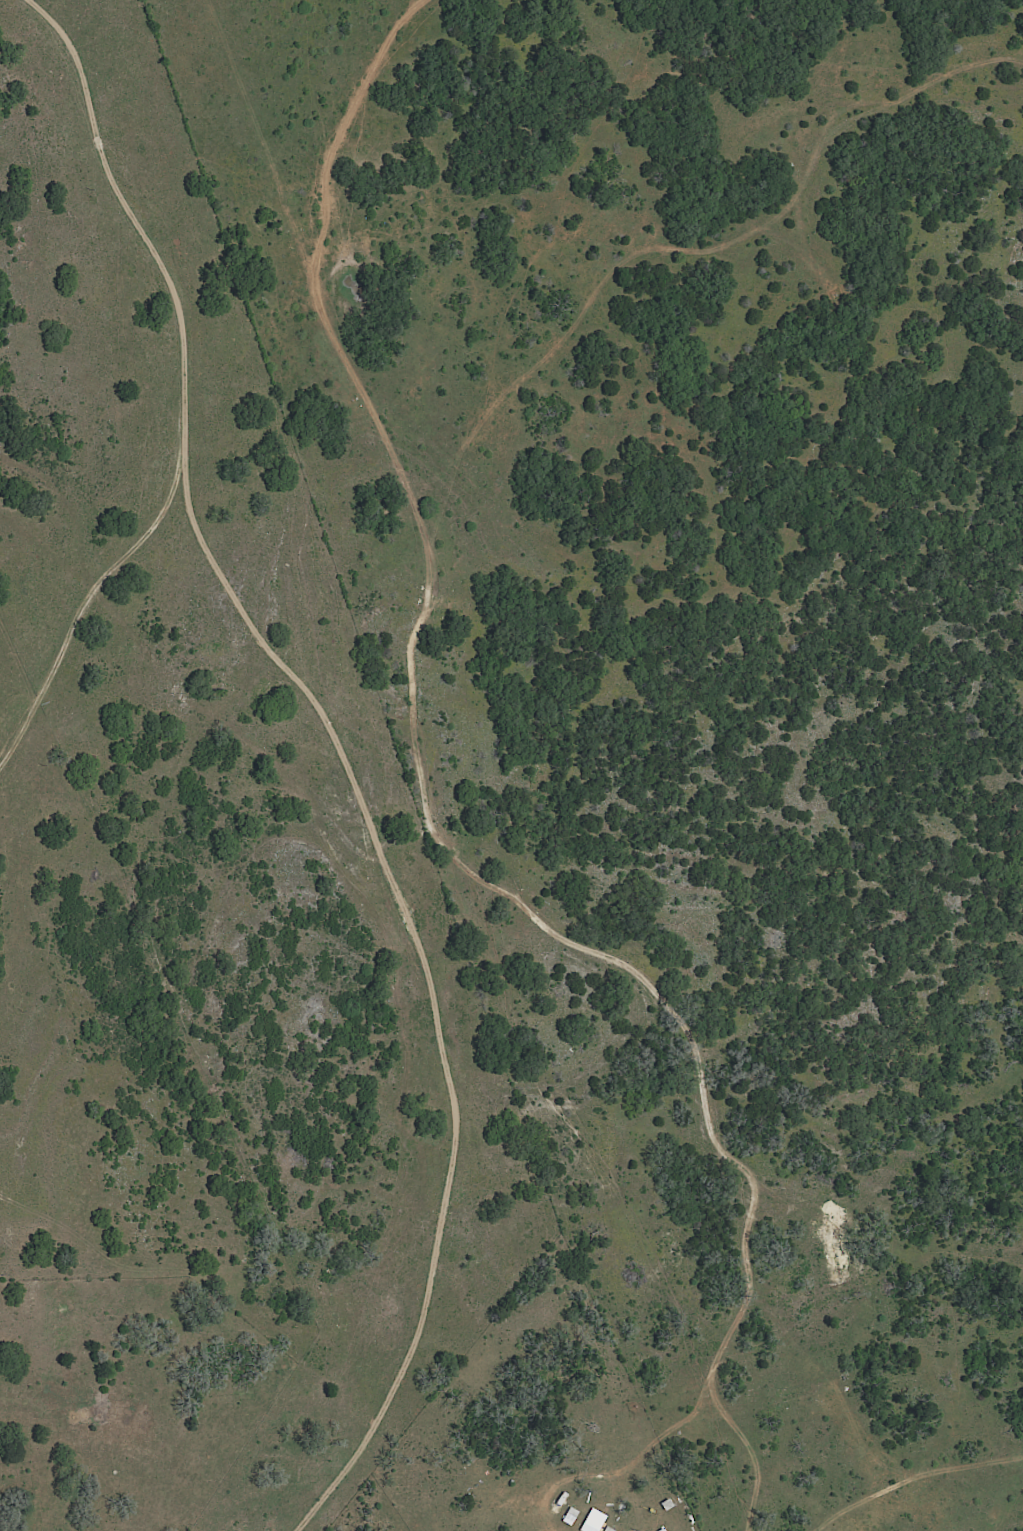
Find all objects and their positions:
building: (566, 1516)
building: (589, 1521)
building: (604, 1529)

